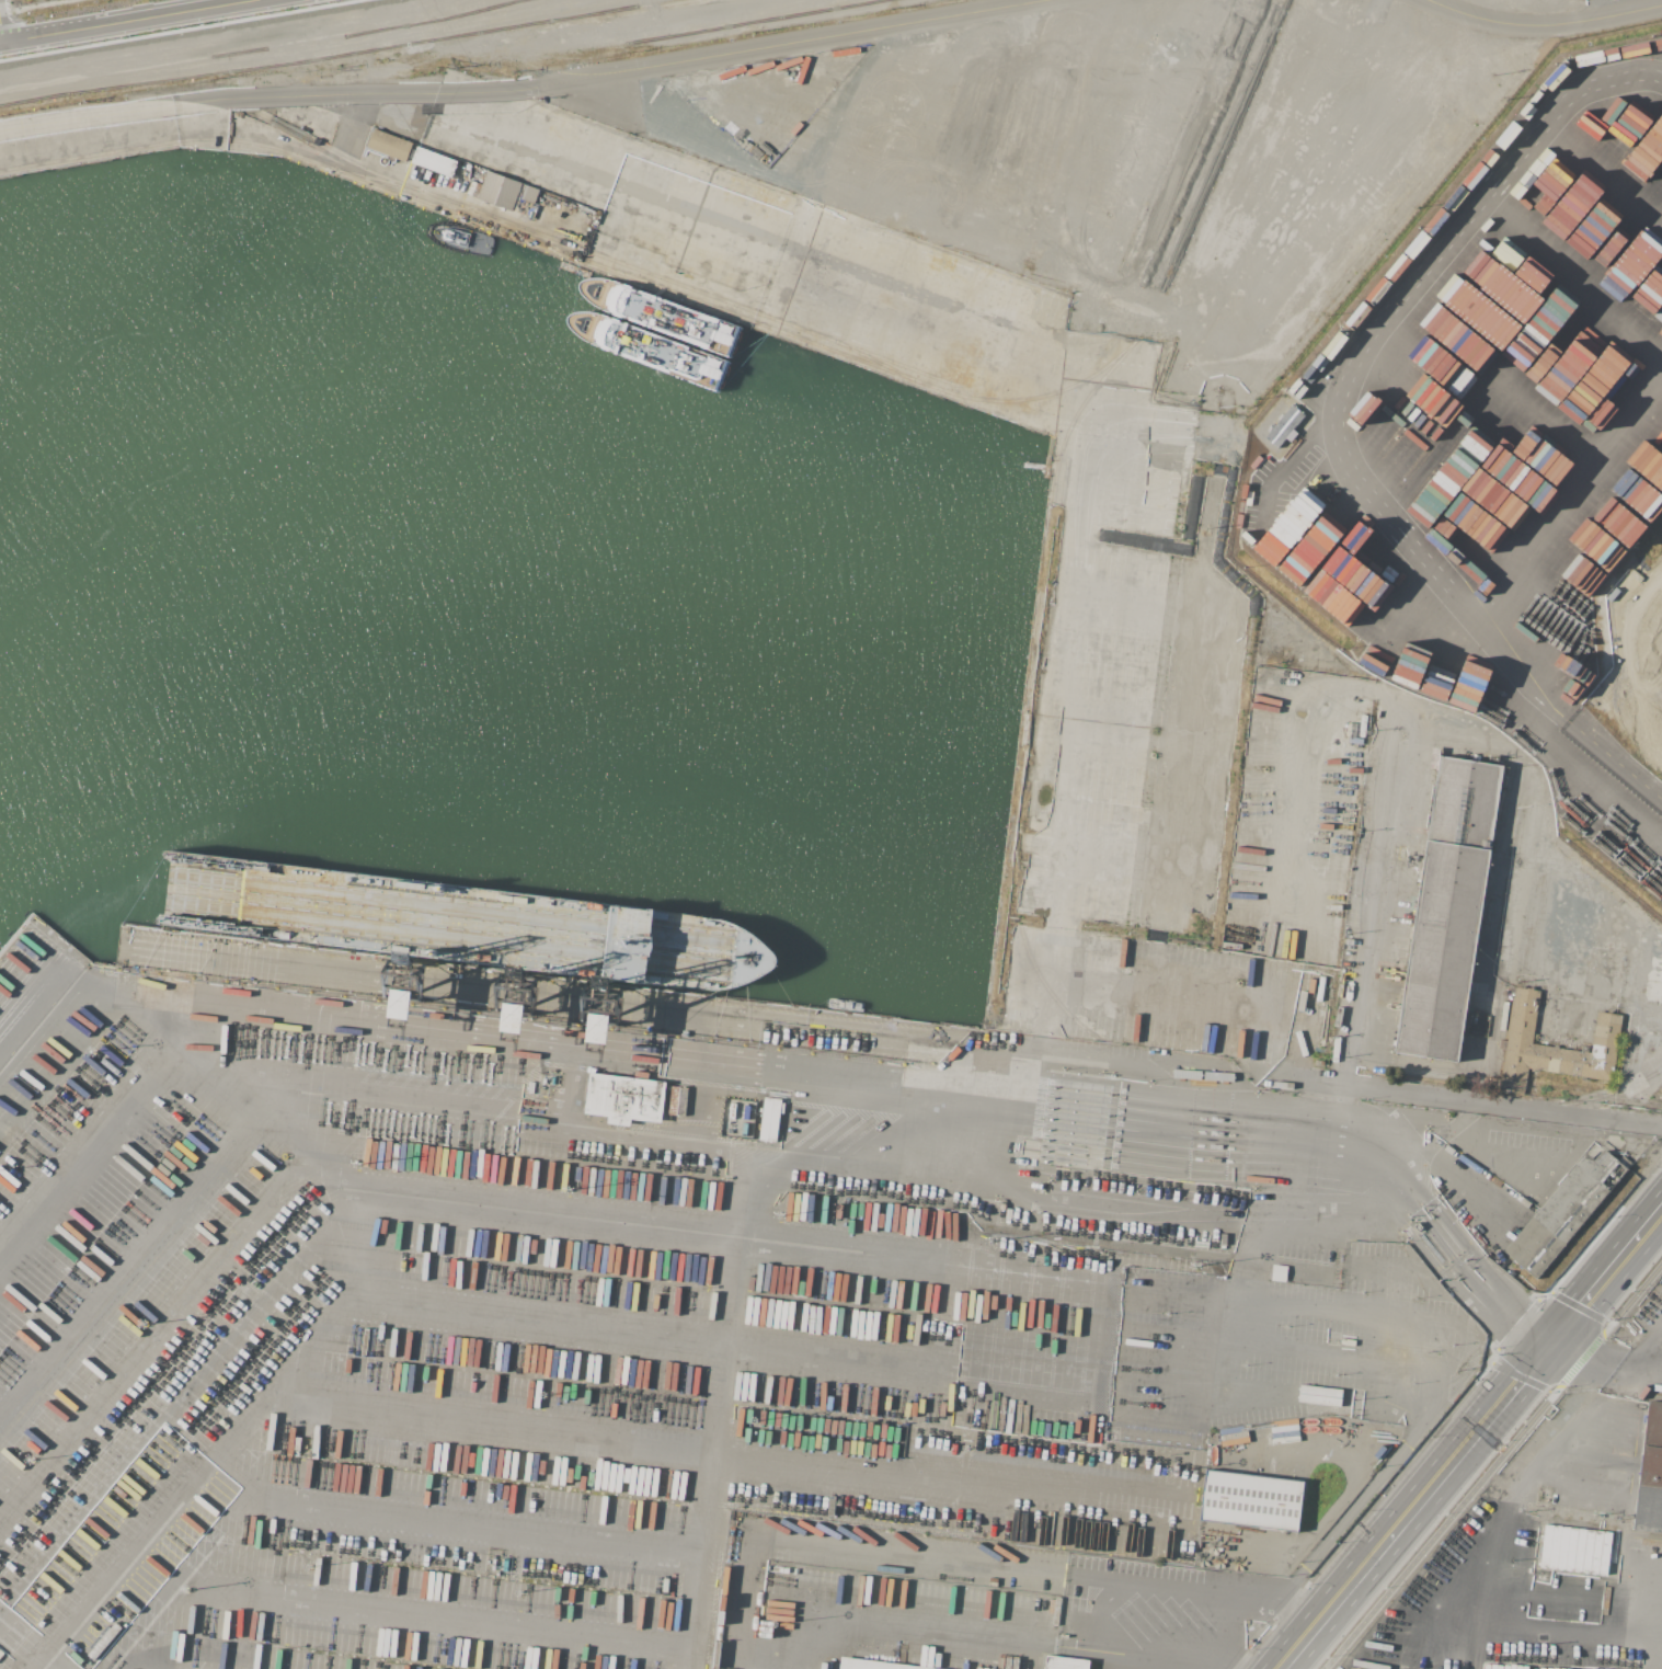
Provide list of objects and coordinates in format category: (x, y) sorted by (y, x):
road: (124, 21)
road: (1546, 24)
road: (0, 37)
road: (516, 89)
road: (846, 95)
road: (695, 136)
building: (390, 145)
building: (434, 161)
road: (403, 183)
building: (474, 188)
building: (500, 190)
building: (528, 193)
road: (652, 197)
road: (799, 241)
road: (1356, 354)
building: (1284, 425)
road: (1564, 496)
parking lot: (1647, 604)
road: (1659, 653)
road: (1657, 658)
road: (1659, 658)
road: (1627, 691)
road: (1609, 716)
parking lot: (1652, 734)
road: (1302, 743)
road: (1607, 753)
road: (1380, 893)
building: (1447, 908)
building: (629, 944)
building: (401, 1004)
building: (1521, 1025)
road: (85, 1026)
building: (596, 1029)
road: (519, 1044)
road: (1618, 1090)
building: (624, 1098)
building: (679, 1100)
road: (1464, 1101)
building: (770, 1119)
road: (508, 1128)
road: (103, 1133)
building: (1564, 1211)
road: (1652, 1216)
road: (703, 1232)
road: (370, 1243)
road: (1597, 1283)
road: (1637, 1292)
road: (1242, 1296)
road: (1501, 1306)
road: (1579, 1306)
road: (482, 1310)
road: (1353, 1310)
road: (1516, 1324)
traffic signals: (1551, 1339)
road: (1646, 1347)
road: (1583, 1358)
road: (1603, 1364)
road: (1520, 1376)
road: (9, 1383)
building: (1319, 1395)
road: (718, 1414)
road: (1402, 1443)
road: (730, 1448)
building: (1650, 1476)
building: (1251, 1500)
road: (1415, 1504)
road: (1502, 1516)
road: (472, 1522)
road: (1439, 1531)
building: (1578, 1545)
road: (1051, 1573)
road: (1122, 1581)
road: (1620, 1605)
road: (437, 1617)
road: (1477, 1621)
road: (971, 1635)
road: (28, 1646)
building: (1065, 1662)
building: (872, 1665)

